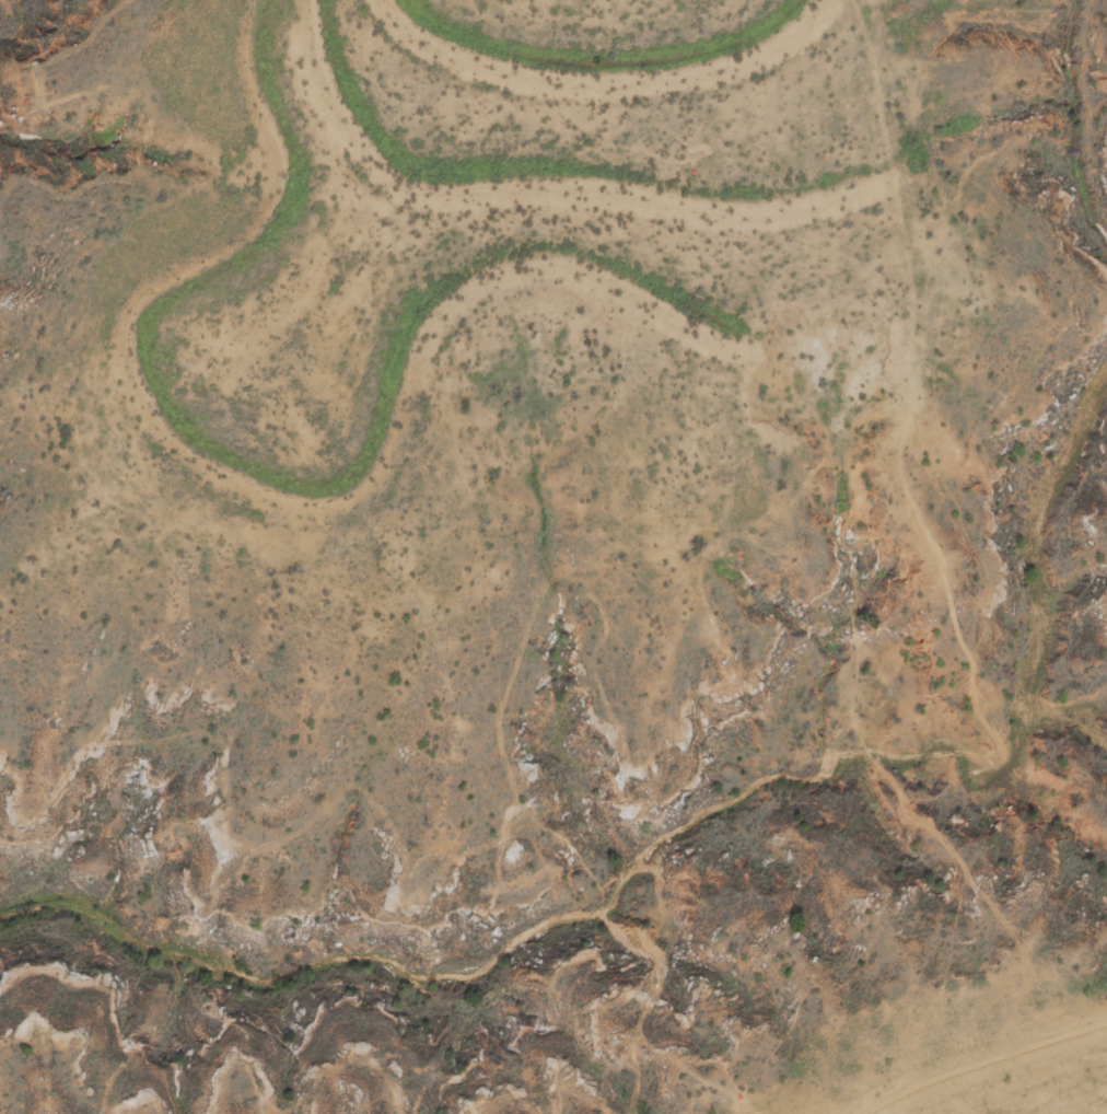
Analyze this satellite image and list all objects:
road: (983, 1058)

